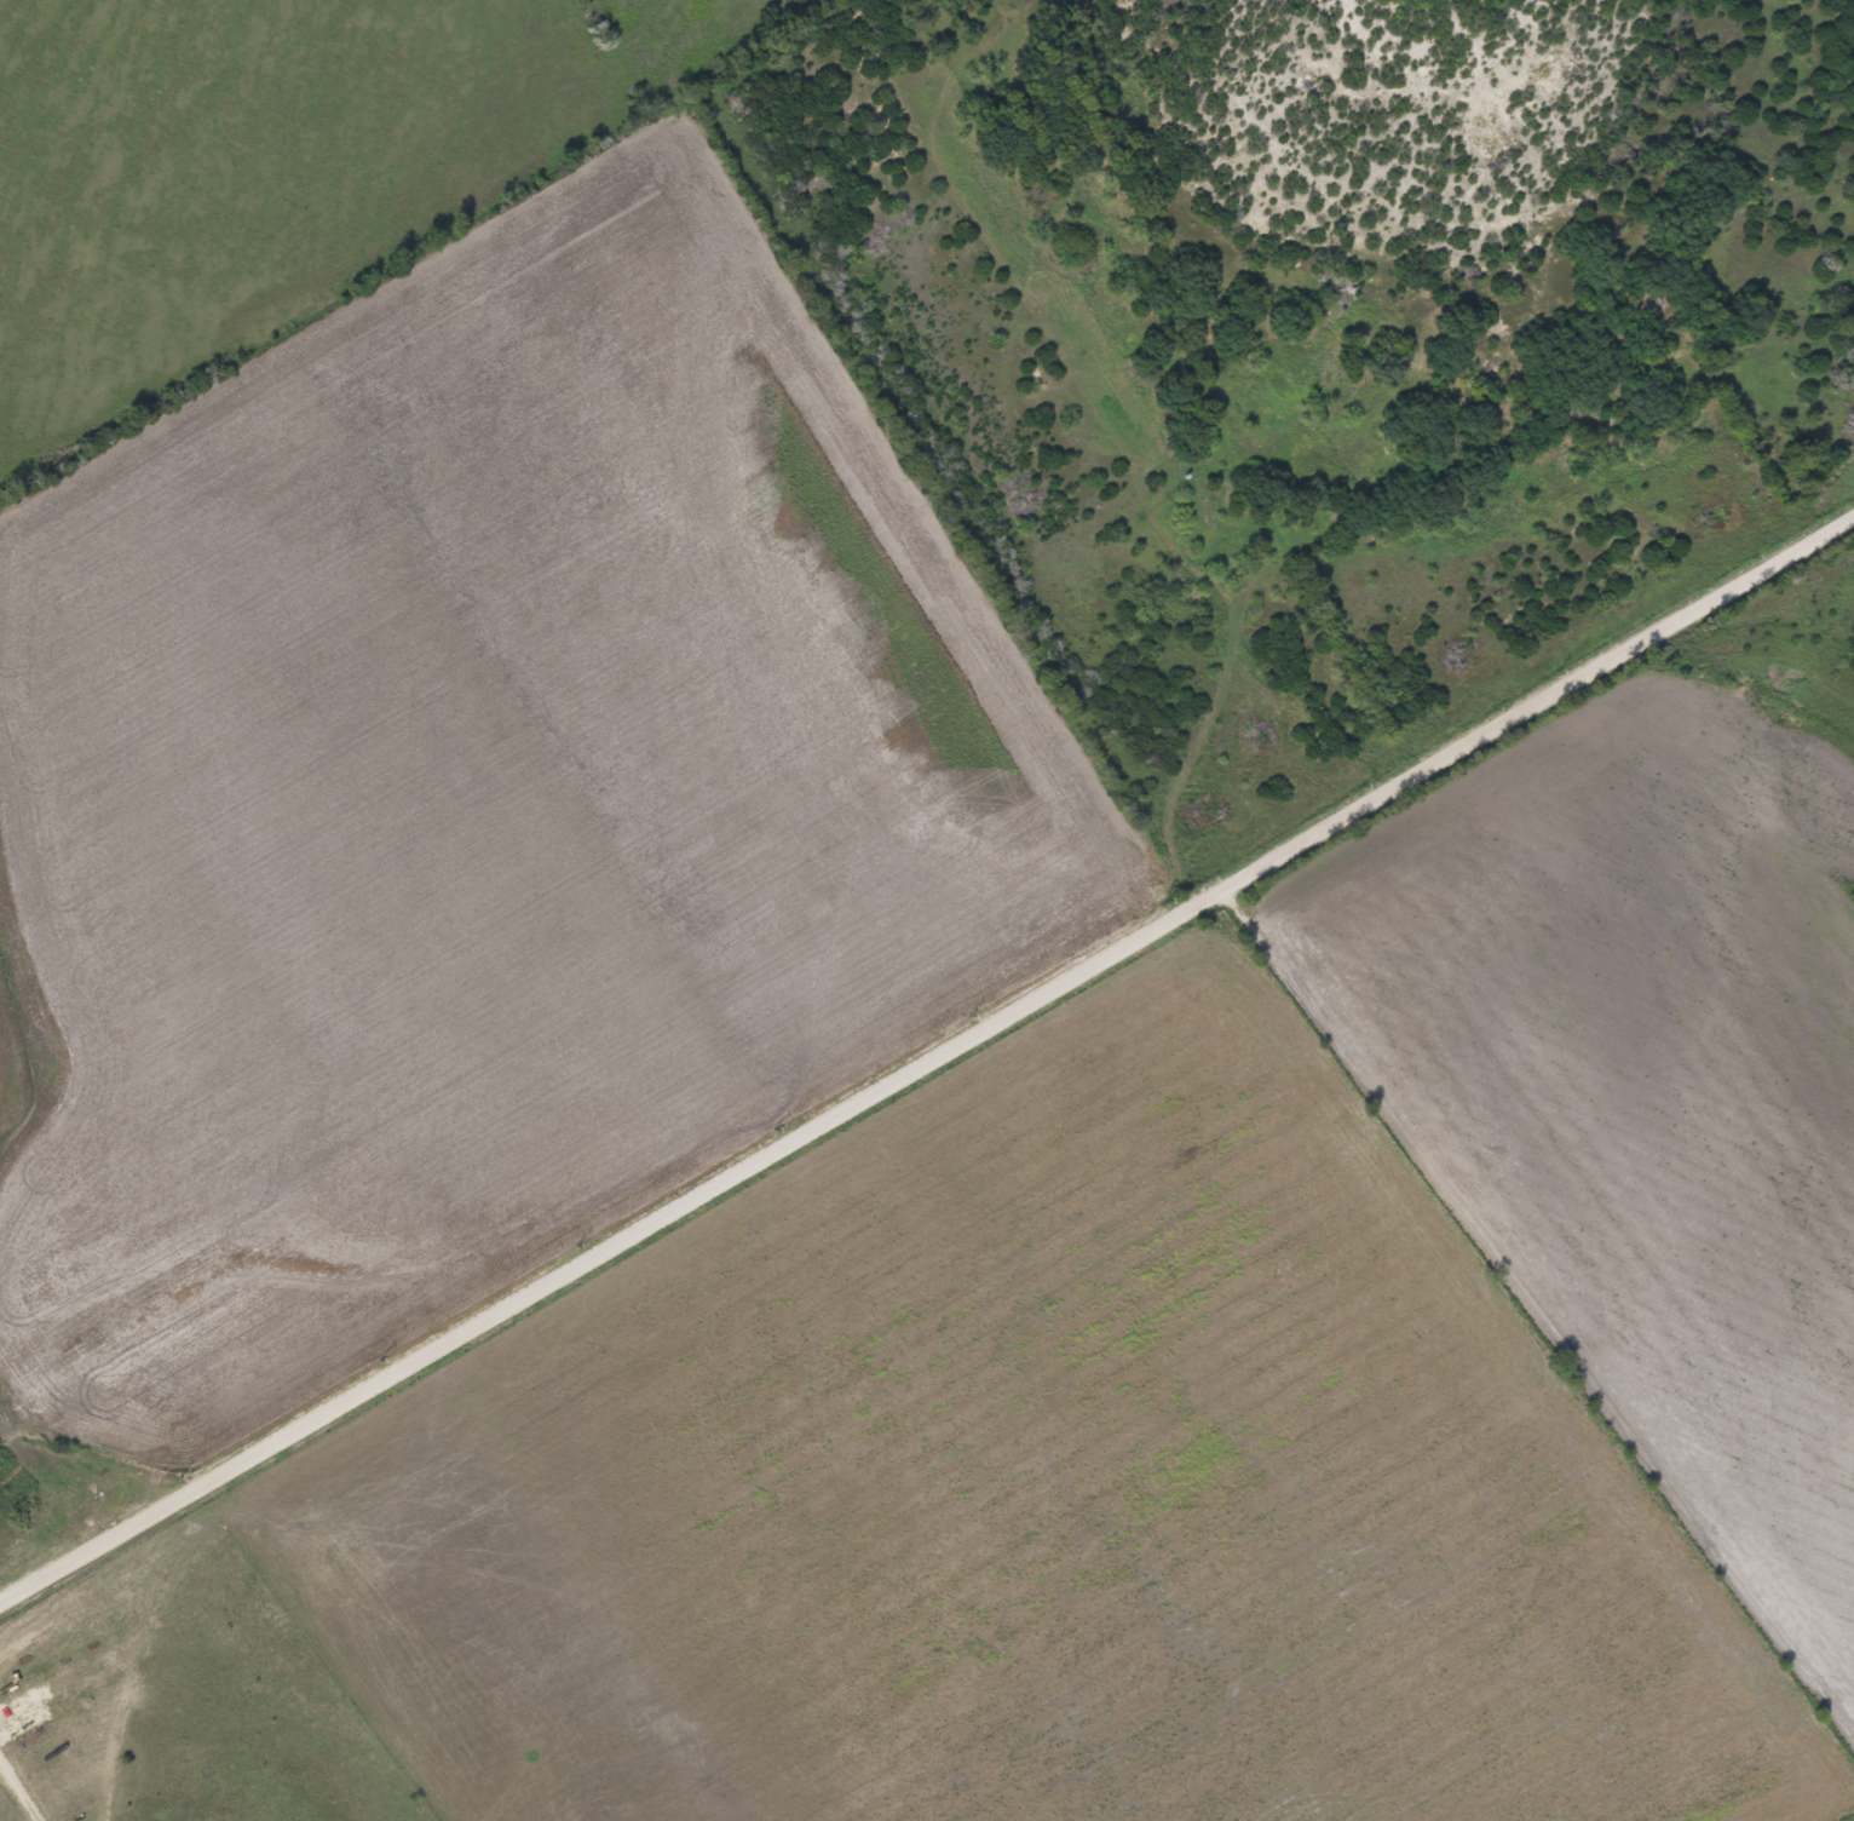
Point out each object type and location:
building: (1337, 293)
road: (928, 1068)
road: (10, 1798)

